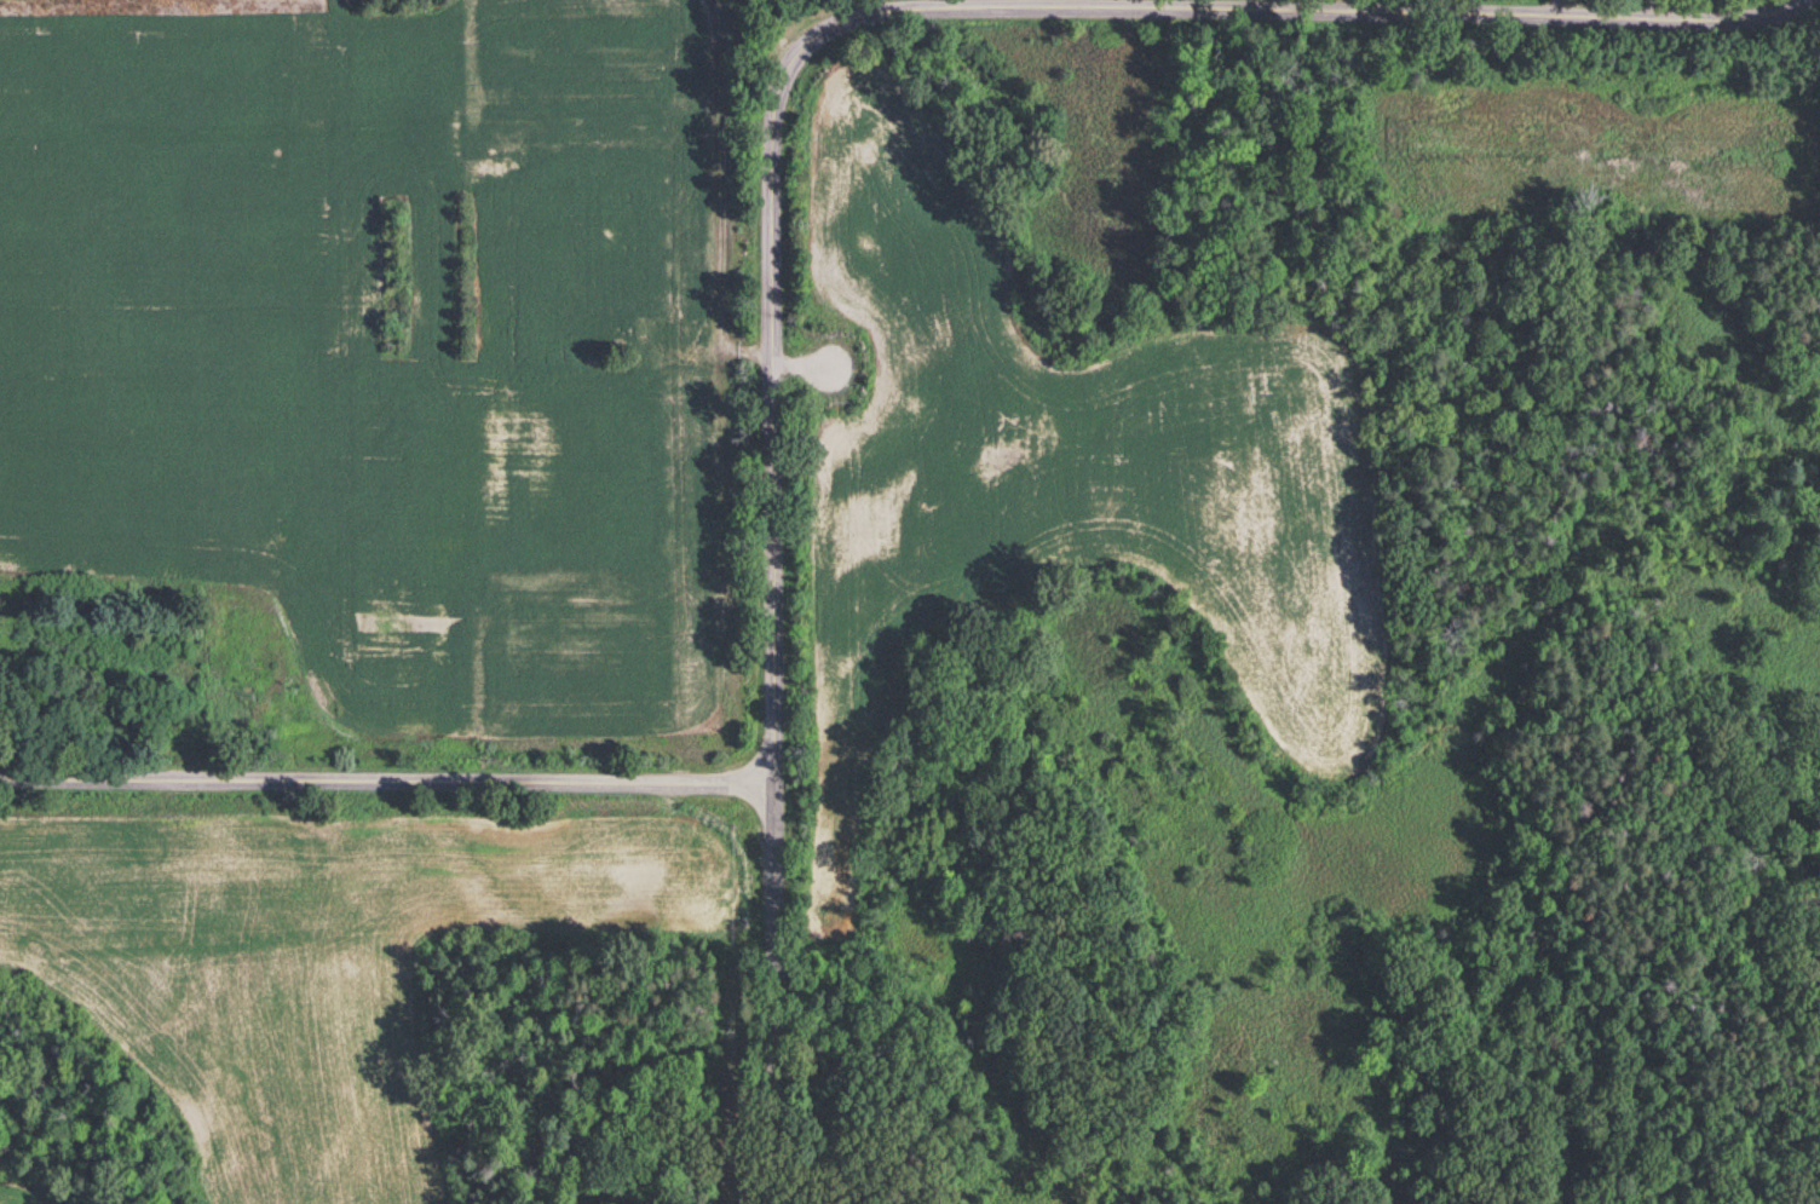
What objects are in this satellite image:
road: (1342, 18)
road: (781, 382)
road: (385, 783)
road: (770, 995)

